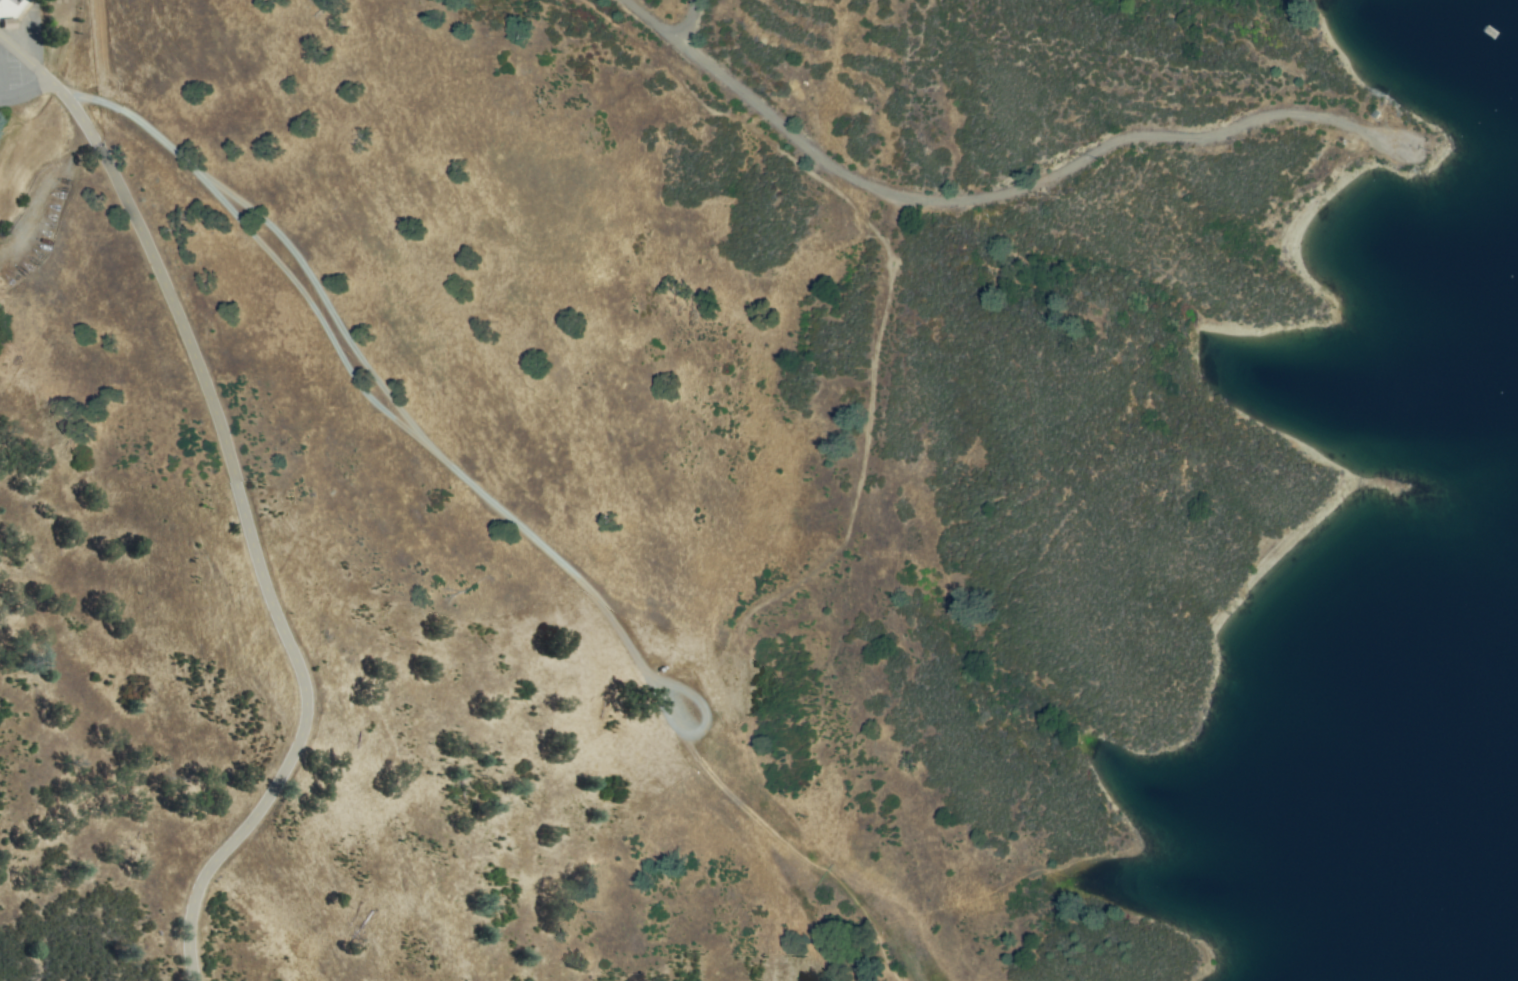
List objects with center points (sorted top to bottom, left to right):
road: (668, 24)
road: (374, 27)
road: (711, 29)
road: (643, 77)
road: (635, 404)

